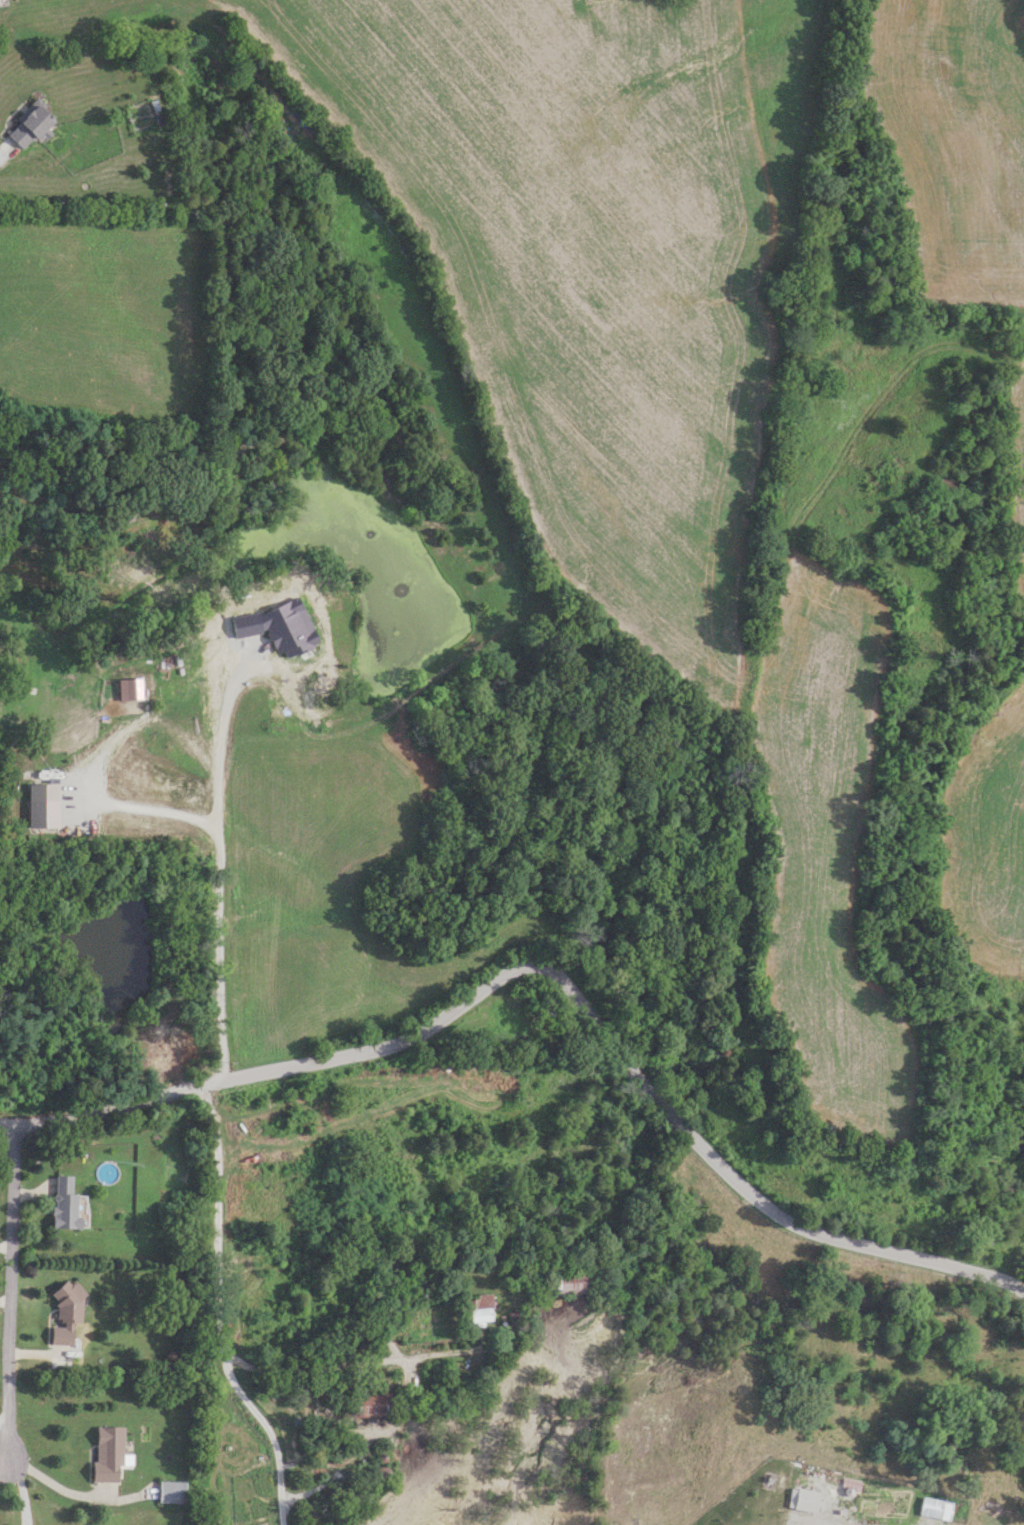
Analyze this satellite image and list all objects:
building: (30, 125)
road: (221, 753)
road: (219, 881)
road: (553, 976)
building: (64, 1202)
road: (533, 1250)
building: (566, 1282)
road: (8, 1289)
road: (4, 1304)
building: (480, 1308)
building: (67, 1312)
road: (219, 1313)
building: (365, 1340)
road: (345, 1364)
building: (371, 1401)
building: (108, 1453)
road: (3, 1458)
building: (172, 1491)
road: (75, 1493)
building: (807, 1495)

